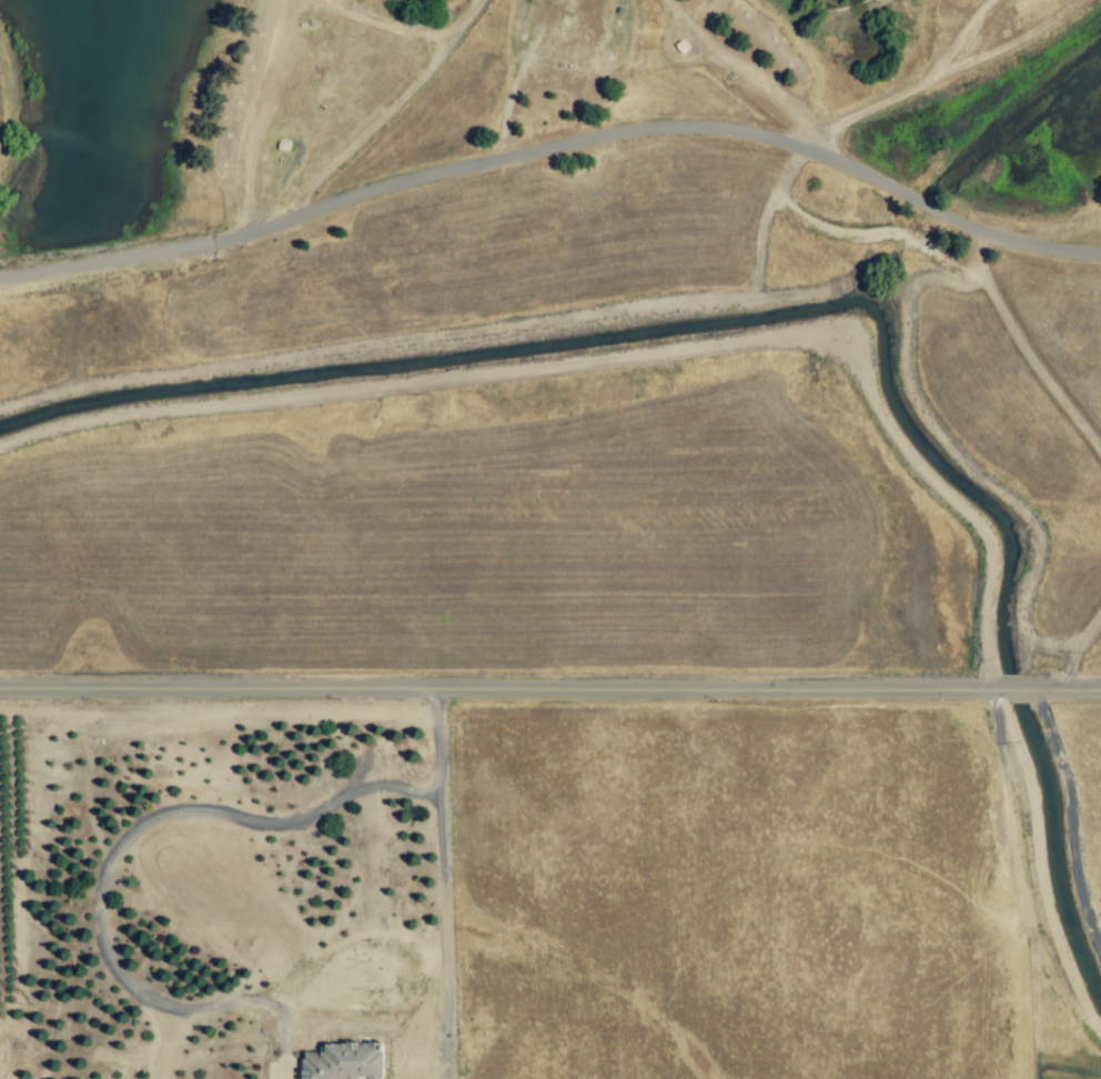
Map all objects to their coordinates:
road: (951, 42)
road: (1001, 49)
road: (859, 113)
road: (554, 145)
river: (996, 578)
road: (550, 687)
road: (435, 724)
road: (108, 857)
crop: (720, 896)
road: (440, 919)
road: (171, 1042)
building: (345, 1061)
road: (281, 1075)

